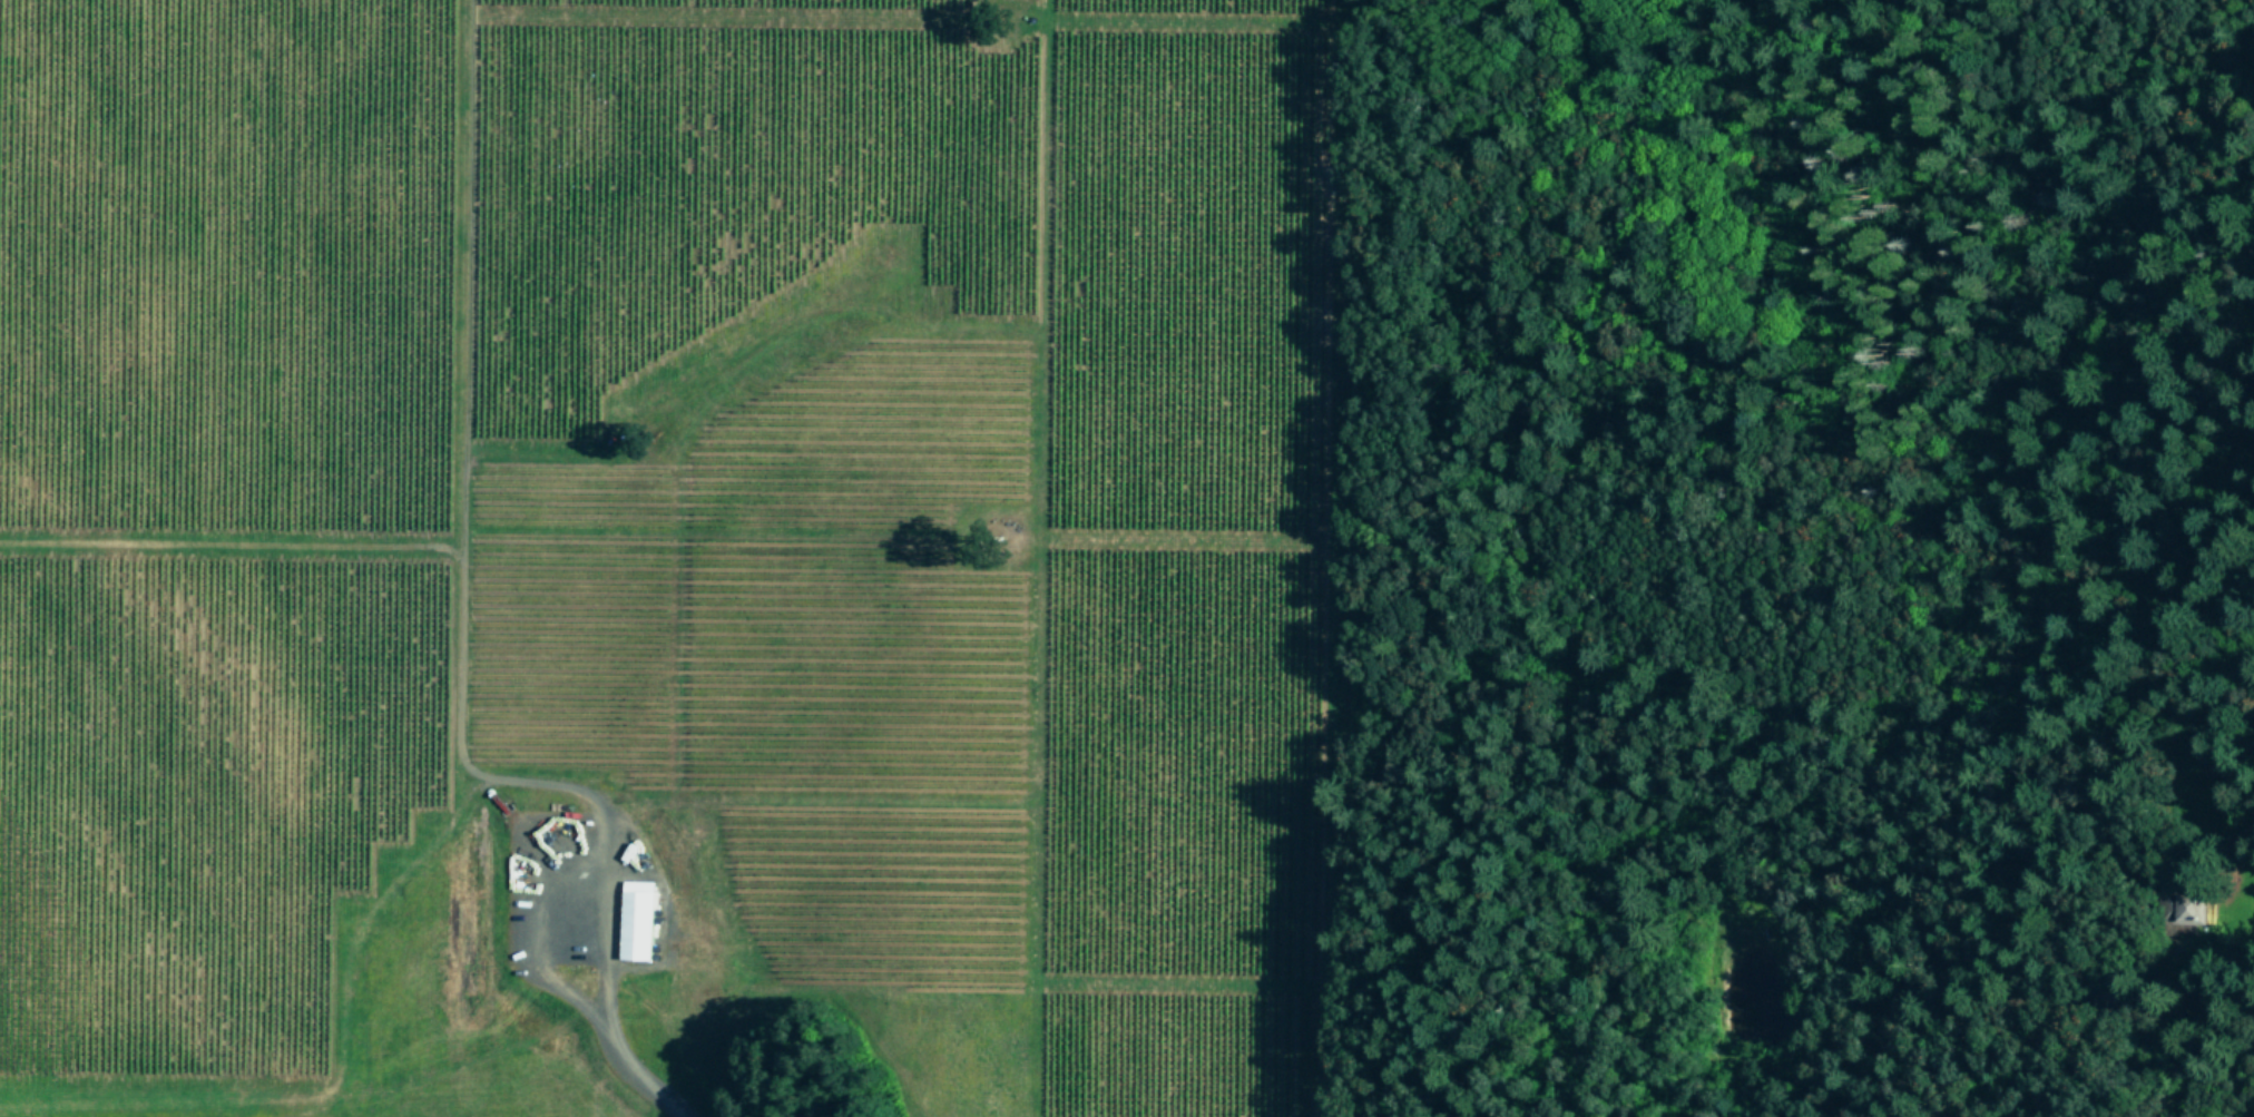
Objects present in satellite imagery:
road: (550, 948)
road: (638, 1076)

